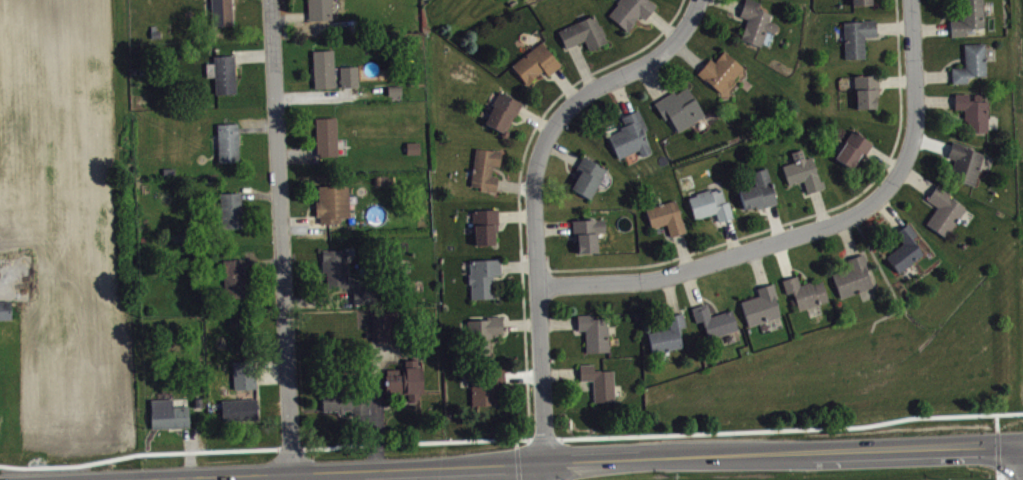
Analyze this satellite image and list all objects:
road: (733, 3)
building: (865, 4)
building: (318, 9)
building: (221, 11)
building: (630, 11)
road: (734, 14)
building: (972, 19)
road: (645, 20)
building: (755, 22)
road: (663, 23)
building: (583, 32)
building: (860, 40)
road: (580, 44)
road: (688, 52)
building: (535, 62)
road: (582, 65)
building: (323, 67)
building: (974, 67)
building: (720, 70)
building: (222, 72)
building: (348, 74)
road: (547, 76)
road: (652, 79)
road: (565, 83)
road: (621, 94)
building: (869, 95)
road: (915, 95)
building: (679, 107)
building: (502, 111)
road: (619, 112)
building: (976, 115)
road: (534, 118)
road: (519, 119)
building: (630, 134)
building: (325, 135)
building: (227, 141)
road: (561, 150)
building: (416, 151)
building: (856, 153)
road: (566, 164)
building: (968, 166)
building: (484, 168)
building: (803, 171)
road: (502, 172)
building: (587, 175)
road: (519, 184)
road: (514, 186)
building: (758, 190)
road: (534, 192)
road: (804, 193)
building: (331, 202)
building: (710, 203)
road: (820, 207)
building: (230, 209)
road: (764, 211)
road: (890, 211)
building: (947, 214)
road: (516, 215)
building: (666, 216)
road: (717, 221)
road: (775, 221)
road: (787, 221)
road: (503, 223)
building: (485, 224)
road: (553, 225)
road: (891, 231)
road: (568, 232)
building: (587, 232)
crop: (67, 233)
road: (281, 235)
road: (667, 236)
road: (730, 236)
road: (847, 237)
building: (905, 248)
road: (683, 250)
road: (846, 257)
road: (720, 258)
road: (783, 258)
road: (267, 262)
road: (518, 264)
building: (334, 266)
road: (758, 266)
road: (799, 270)
road: (502, 274)
building: (482, 275)
building: (233, 276)
building: (852, 276)
road: (755, 284)
road: (691, 286)
building: (805, 291)
road: (670, 293)
building: (366, 297)
road: (709, 298)
building: (761, 304)
building: (4, 309)
road: (663, 314)
building: (714, 319)
road: (557, 321)
road: (520, 323)
building: (386, 325)
road: (574, 330)
building: (483, 331)
building: (593, 331)
building: (668, 333)
road: (503, 334)
building: (0, 337)
road: (271, 371)
road: (560, 372)
building: (243, 373)
road: (522, 374)
building: (405, 378)
building: (598, 381)
road: (578, 383)
building: (485, 384)
building: (346, 400)
building: (197, 401)
road: (375, 406)
building: (238, 408)
building: (168, 413)
road: (996, 421)
road: (791, 427)
road: (543, 438)
road: (415, 441)
road: (516, 441)
road: (291, 447)
road: (997, 450)
road: (189, 451)
road: (137, 453)
road: (545, 460)
road: (517, 462)
road: (537, 470)
road: (551, 470)
road: (998, 475)
road: (165, 478)

